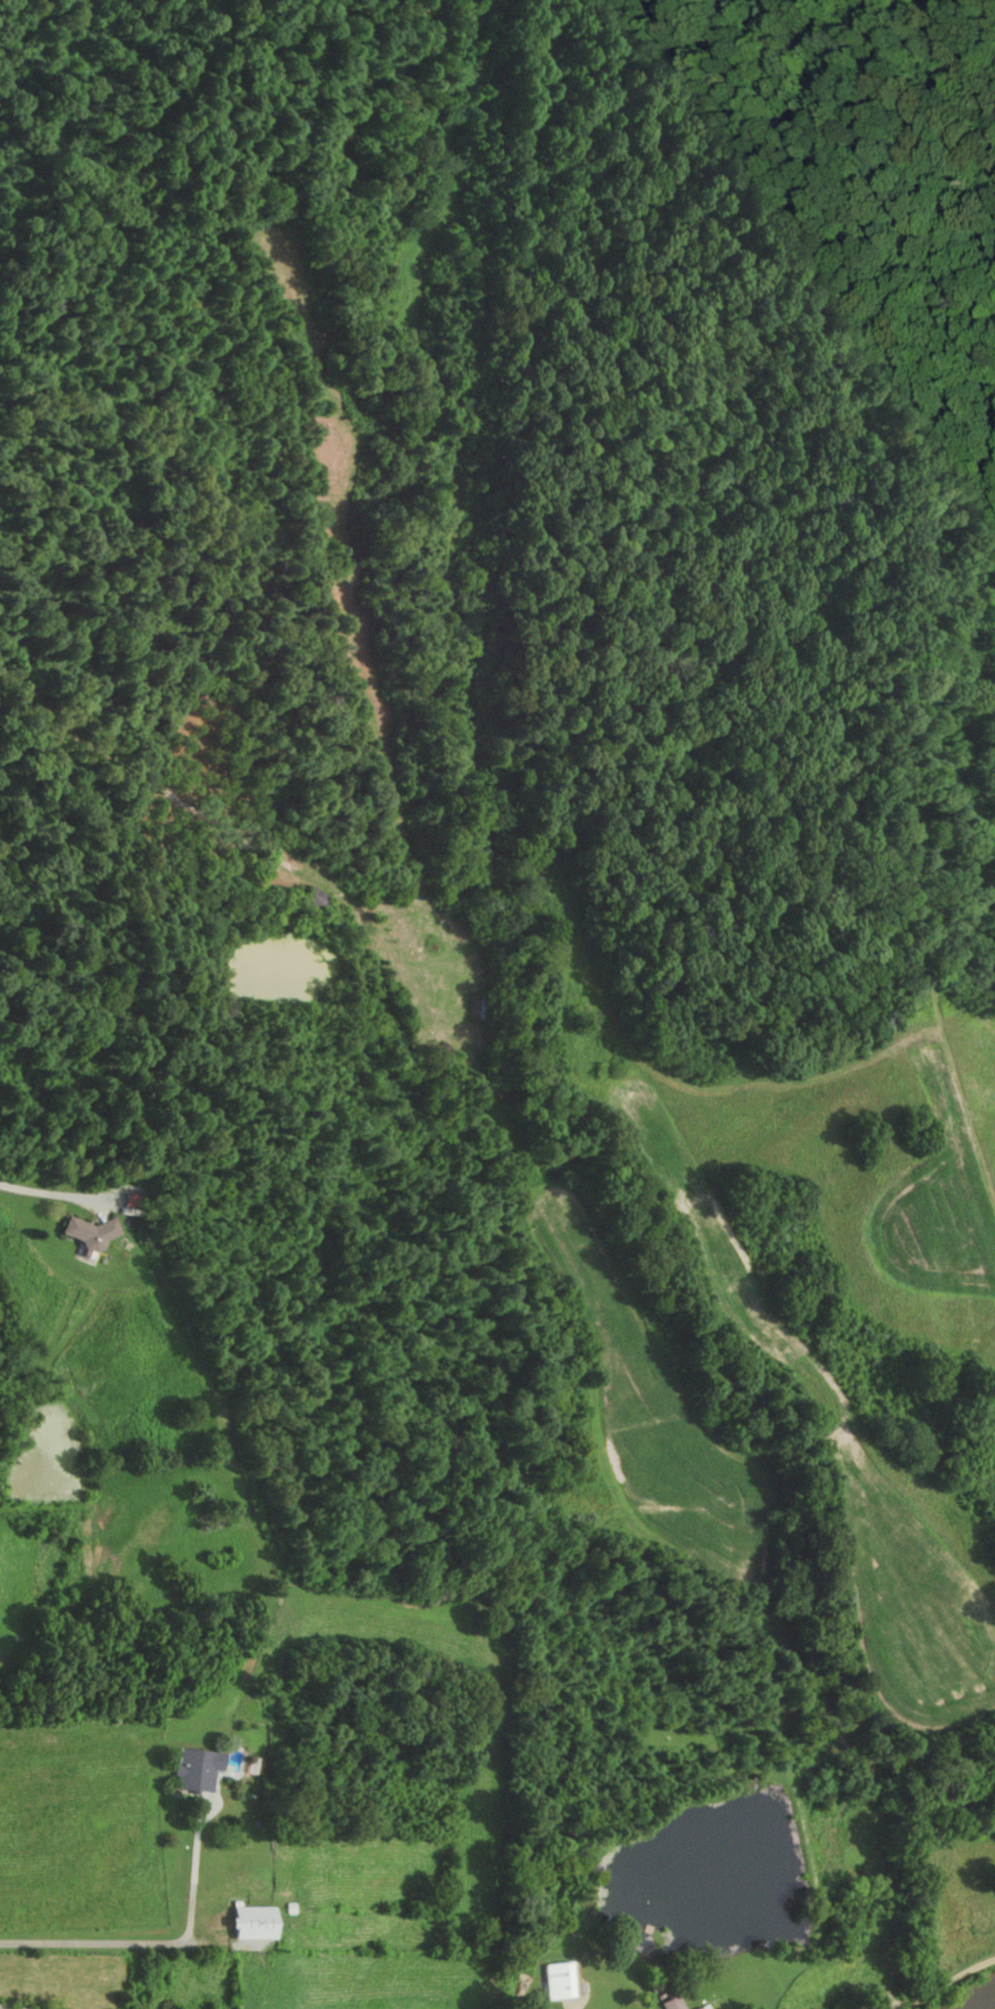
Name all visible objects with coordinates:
building: (312, 898)
road: (41, 1195)
road: (747, 1500)
building: (192, 1770)
building: (244, 1923)
road: (153, 1943)
building: (552, 1980)
road: (950, 1983)
building: (670, 2003)
road: (901, 2005)
building: (700, 2007)

